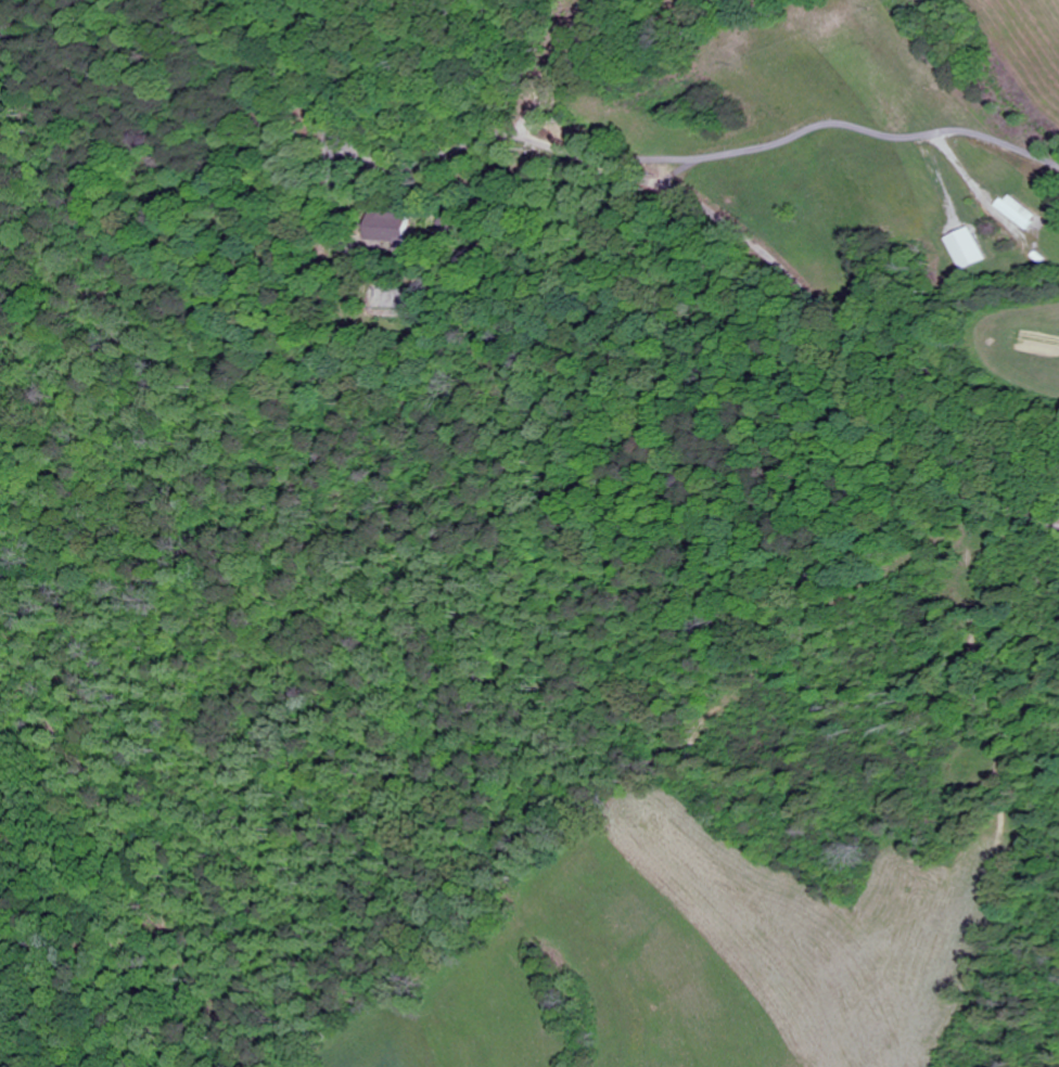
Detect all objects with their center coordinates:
road: (663, 183)
building: (1017, 210)
building: (451, 223)
building: (394, 231)
building: (970, 247)

